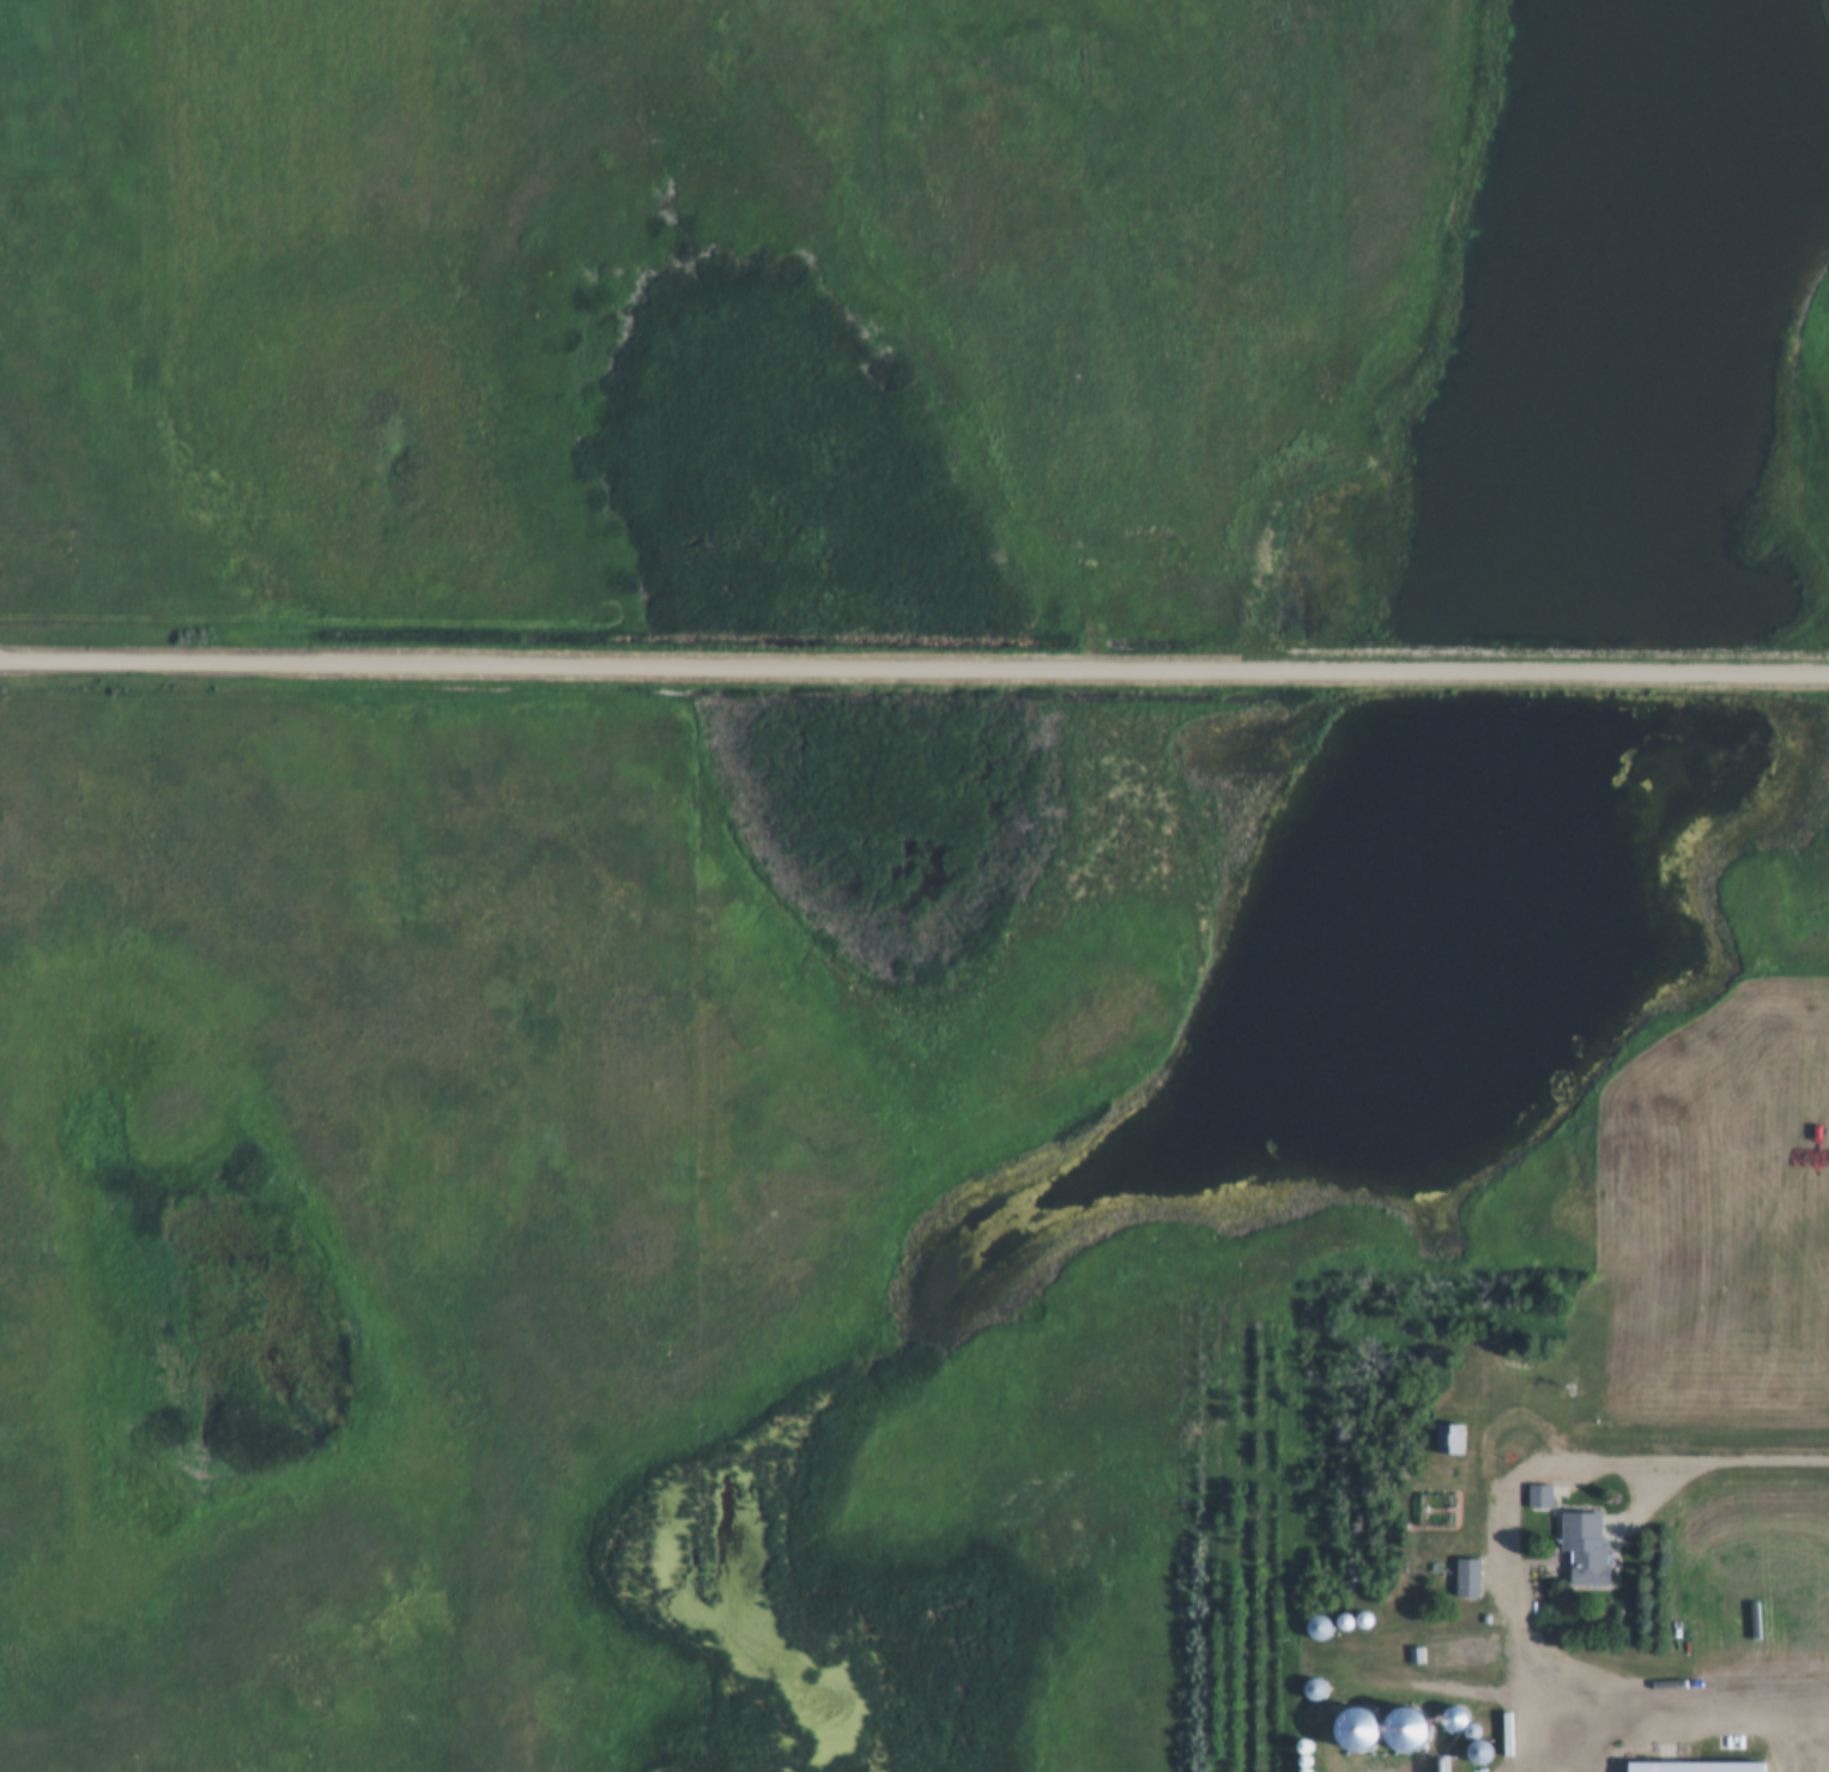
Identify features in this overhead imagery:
road: (914, 667)
building: (1645, 1166)
building: (1452, 1440)
road: (1725, 1460)
building: (1456, 1505)
road: (1498, 1528)
building: (1582, 1548)
road: (1691, 1707)
building: (1695, 1767)

